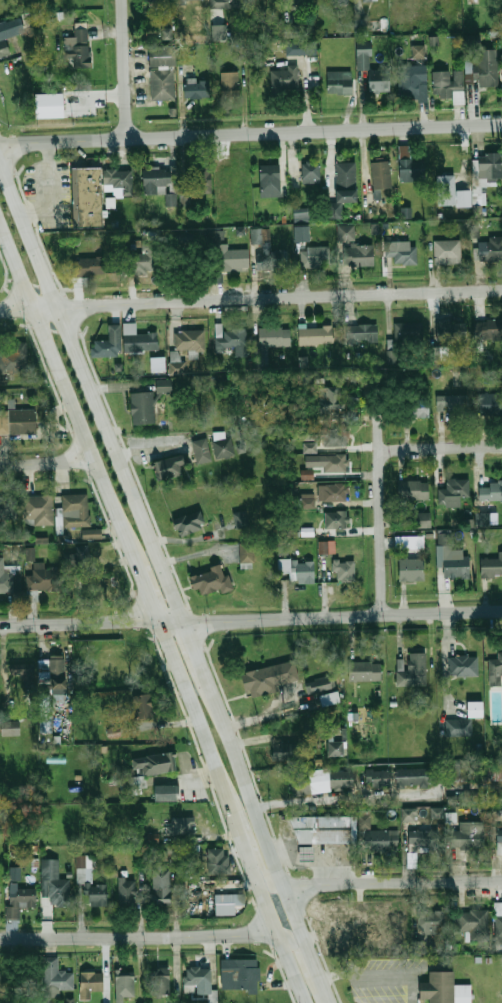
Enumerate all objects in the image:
building: (156, 0)
building: (192, 0)
building: (296, 0)
building: (369, 0)
building: (501, 1)
building: (340, 2)
building: (232, 3)
building: (291, 30)
building: (219, 32)
building: (4, 41)
building: (77, 47)
building: (296, 48)
building: (364, 48)
building: (418, 50)
building: (161, 55)
building: (501, 60)
road: (126, 67)
building: (486, 68)
building: (283, 79)
building: (379, 79)
building: (410, 80)
building: (340, 82)
building: (230, 83)
building: (162, 84)
building: (448, 85)
building: (196, 89)
building: (48, 105)
road: (250, 131)
building: (411, 168)
building: (484, 172)
building: (310, 173)
building: (381, 174)
building: (199, 178)
building: (119, 180)
building: (156, 180)
building: (269, 180)
building: (343, 185)
building: (445, 190)
building: (89, 196)
building: (170, 199)
building: (406, 212)
building: (301, 214)
building: (375, 228)
building: (301, 233)
building: (346, 233)
building: (489, 250)
building: (447, 251)
building: (267, 253)
building: (401, 253)
building: (226, 254)
building: (358, 255)
building: (318, 256)
building: (144, 257)
building: (88, 266)
road: (250, 301)
building: (490, 329)
building: (410, 330)
building: (450, 331)
building: (362, 333)
building: (315, 335)
building: (274, 337)
building: (230, 339)
building: (190, 341)
building: (139, 342)
building: (106, 343)
building: (13, 359)
building: (157, 364)
building: (177, 368)
road: (62, 376)
building: (163, 386)
road: (92, 395)
building: (452, 403)
building: (490, 404)
building: (333, 405)
building: (415, 407)
building: (141, 409)
building: (17, 421)
building: (328, 436)
building: (221, 449)
building: (308, 450)
road: (441, 450)
building: (200, 453)
building: (327, 463)
road: (49, 465)
building: (166, 470)
building: (305, 476)
building: (490, 489)
building: (413, 490)
building: (335, 492)
building: (453, 492)
road: (380, 498)
building: (306, 502)
building: (8, 508)
building: (38, 510)
building: (75, 511)
building: (240, 519)
building: (336, 519)
building: (482, 519)
building: (423, 520)
building: (187, 524)
building: (306, 533)
building: (91, 534)
building: (409, 542)
building: (326, 547)
building: (30, 553)
building: (245, 557)
building: (81, 558)
building: (451, 559)
building: (492, 566)
building: (411, 569)
building: (342, 570)
building: (302, 571)
road: (141, 574)
building: (10, 578)
building: (41, 580)
building: (209, 582)
road: (250, 619)
building: (463, 665)
building: (57, 667)
building: (19, 669)
building: (412, 670)
building: (496, 670)
road: (205, 671)
building: (364, 671)
building: (271, 681)
building: (319, 684)
building: (330, 698)
road: (187, 702)
building: (142, 705)
building: (47, 709)
building: (465, 720)
building: (10, 728)
building: (336, 747)
building: (284, 751)
building: (154, 762)
building: (474, 771)
building: (413, 776)
building: (377, 777)
building: (341, 778)
building: (134, 783)
building: (300, 784)
building: (165, 791)
road: (222, 798)
road: (344, 799)
road: (251, 805)
building: (436, 812)
building: (408, 814)
building: (180, 827)
building: (323, 827)
building: (468, 834)
building: (499, 838)
building: (382, 840)
building: (424, 840)
building: (304, 852)
gas station: (304, 852)
road: (254, 853)
building: (218, 860)
road: (251, 874)
building: (160, 884)
building: (92, 886)
road: (425, 886)
road: (315, 888)
building: (127, 891)
building: (59, 896)
building: (20, 899)
building: (229, 901)
building: (432, 919)
building: (499, 922)
building: (474, 924)
road: (250, 935)
road: (112, 936)
road: (303, 939)
road: (300, 960)
road: (289, 968)
building: (240, 973)
building: (56, 975)
road: (372, 976)
parking lot: (381, 979)
building: (25, 980)
building: (200, 980)
building: (1, 981)
building: (160, 982)
building: (91, 984)
building: (124, 986)
building: (447, 989)
road: (327, 997)

